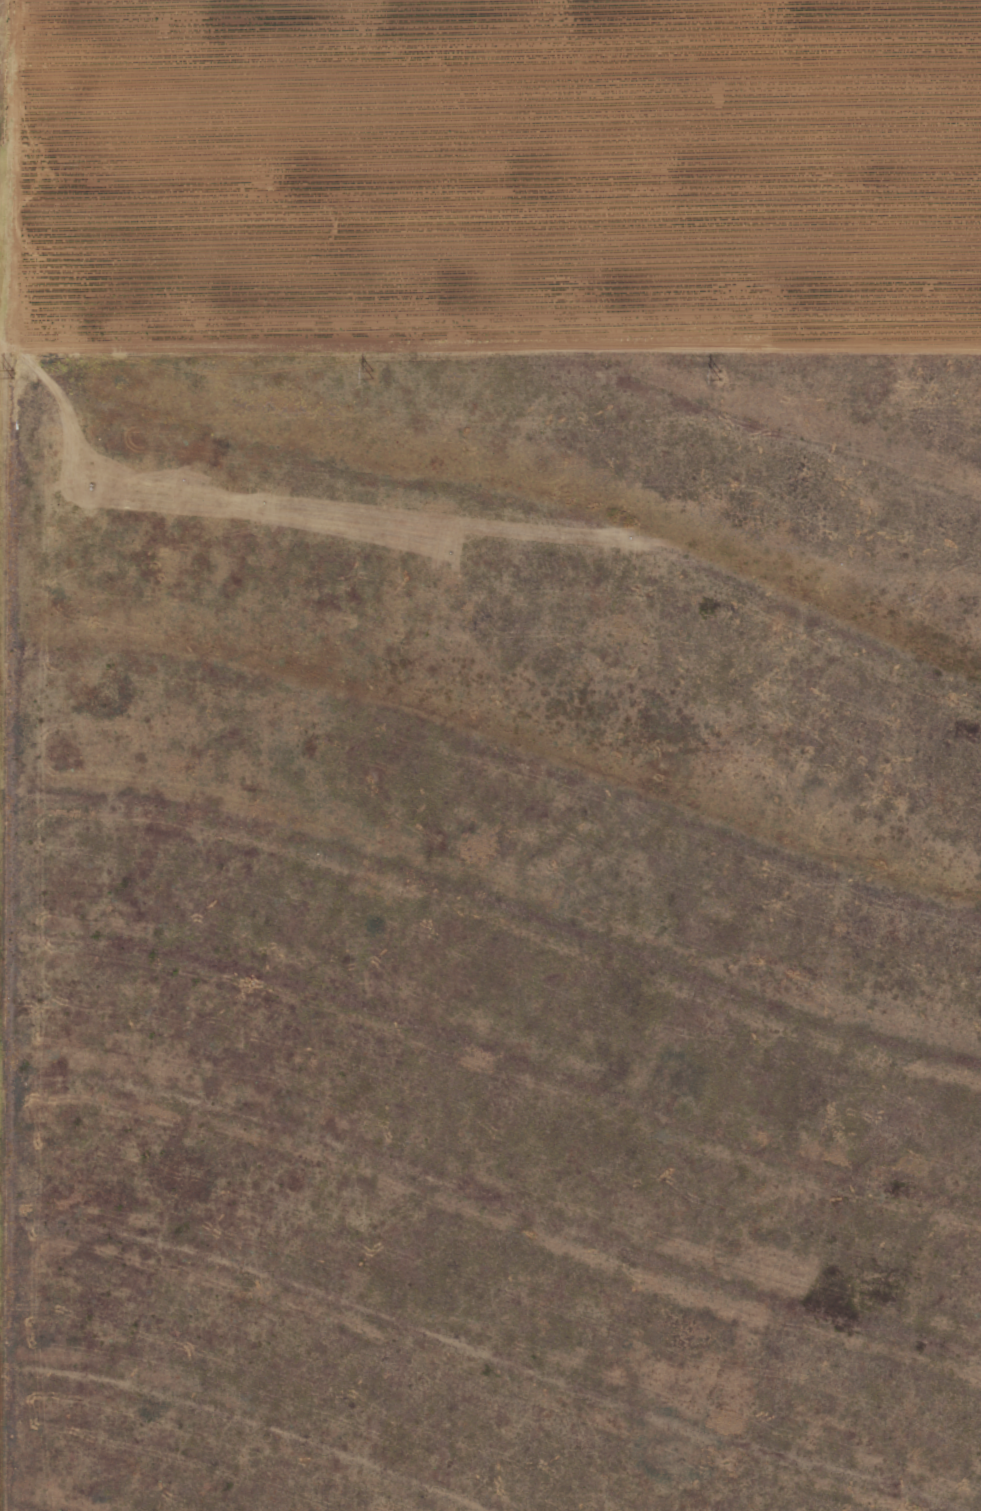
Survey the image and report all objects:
road: (490, 358)
power tower: (10, 368)
power tower: (716, 371)
power tower: (371, 372)

